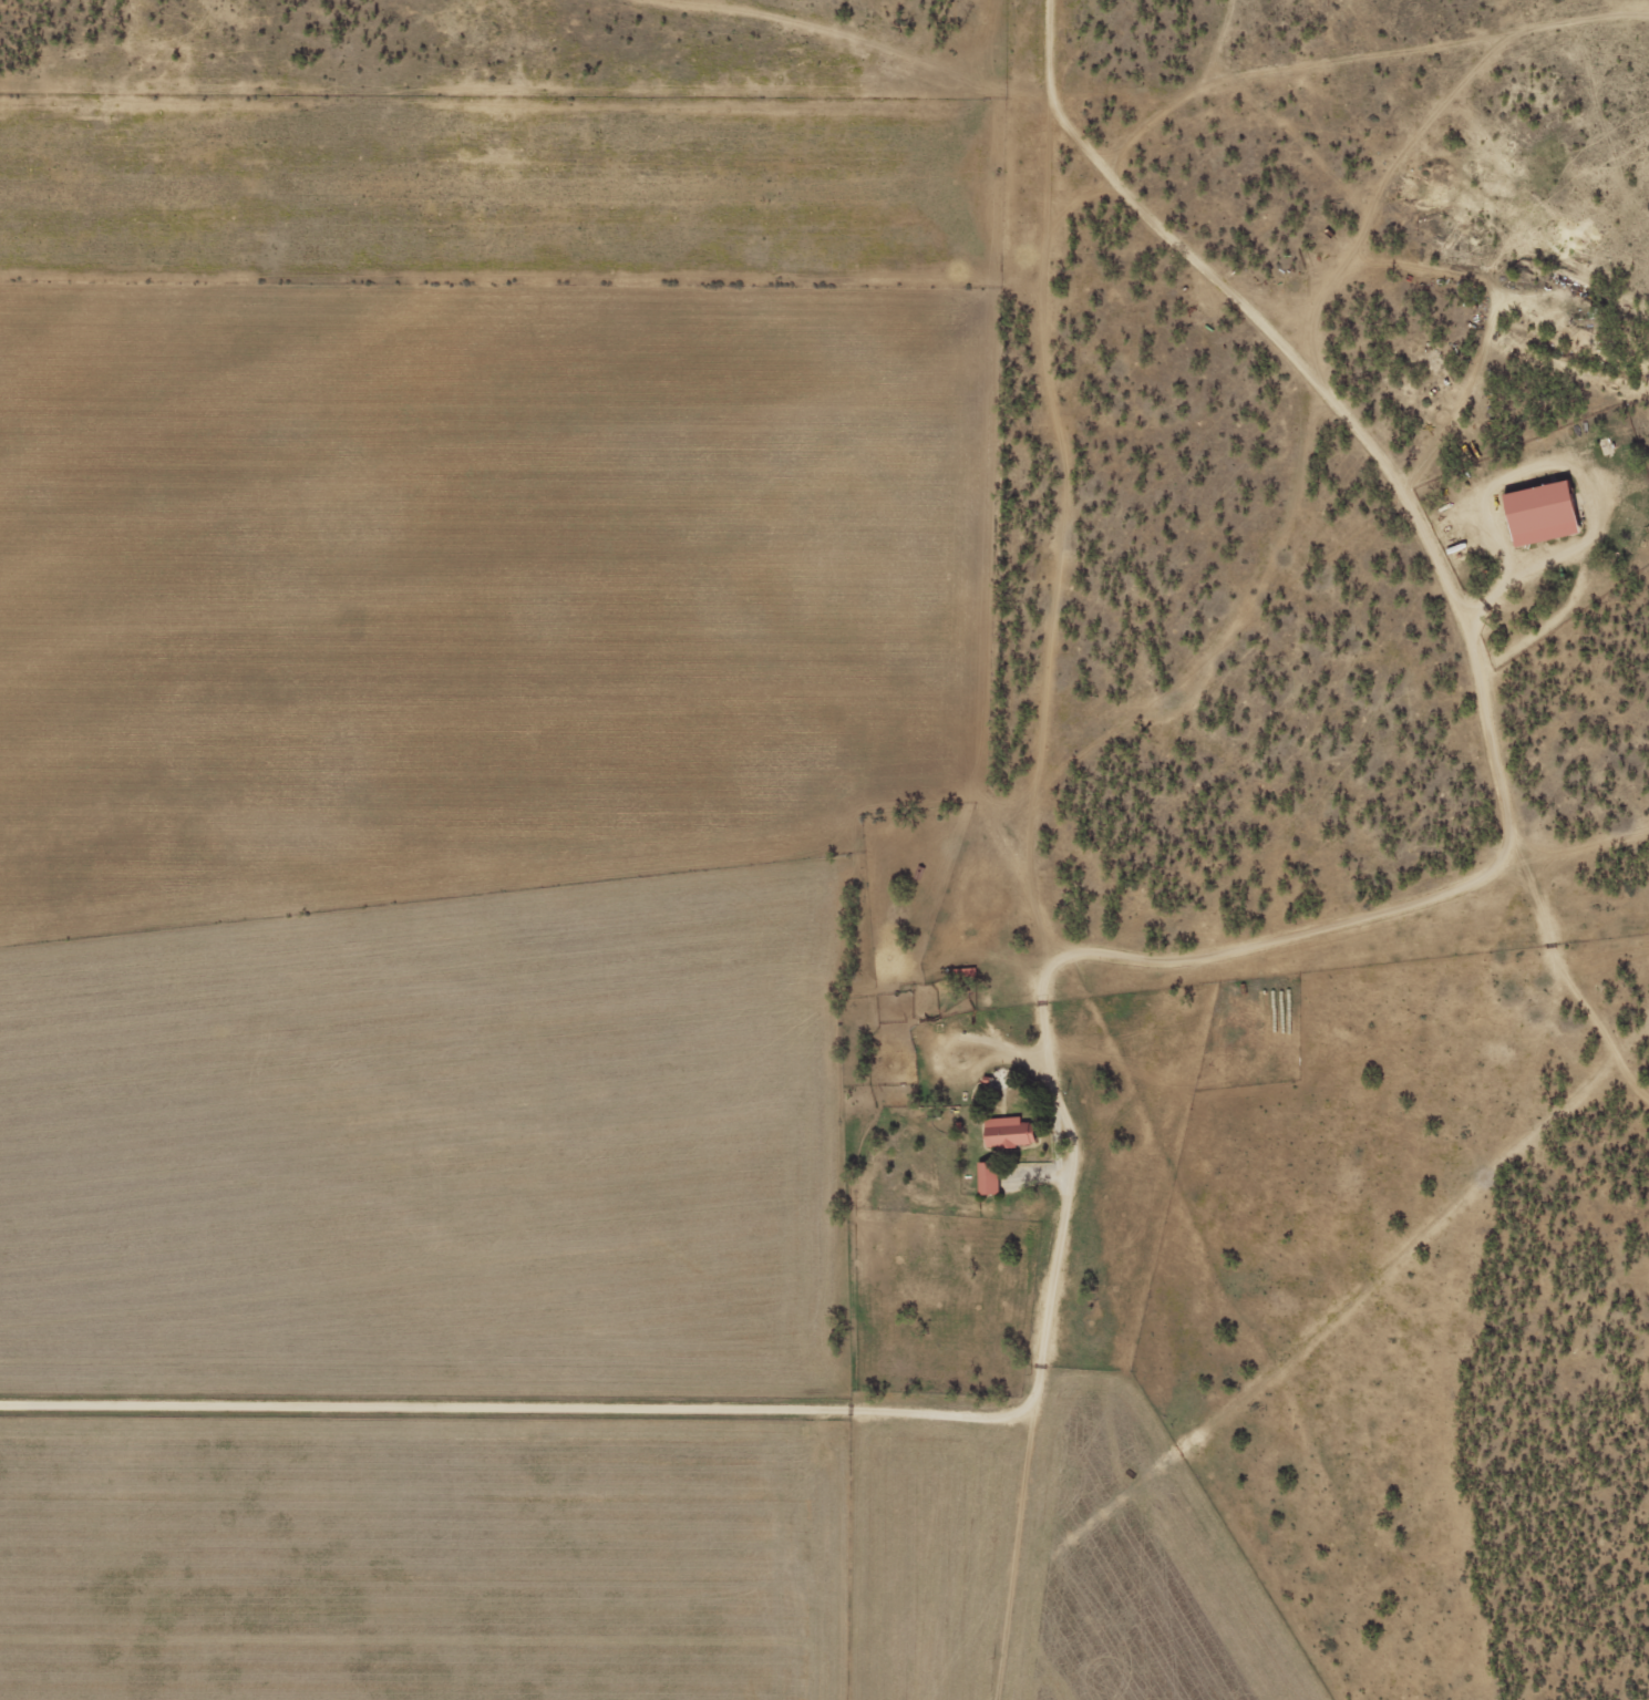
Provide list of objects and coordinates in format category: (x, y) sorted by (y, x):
building: (1546, 513)
road: (1037, 859)
building: (1012, 1131)
building: (991, 1176)
road: (508, 1411)

